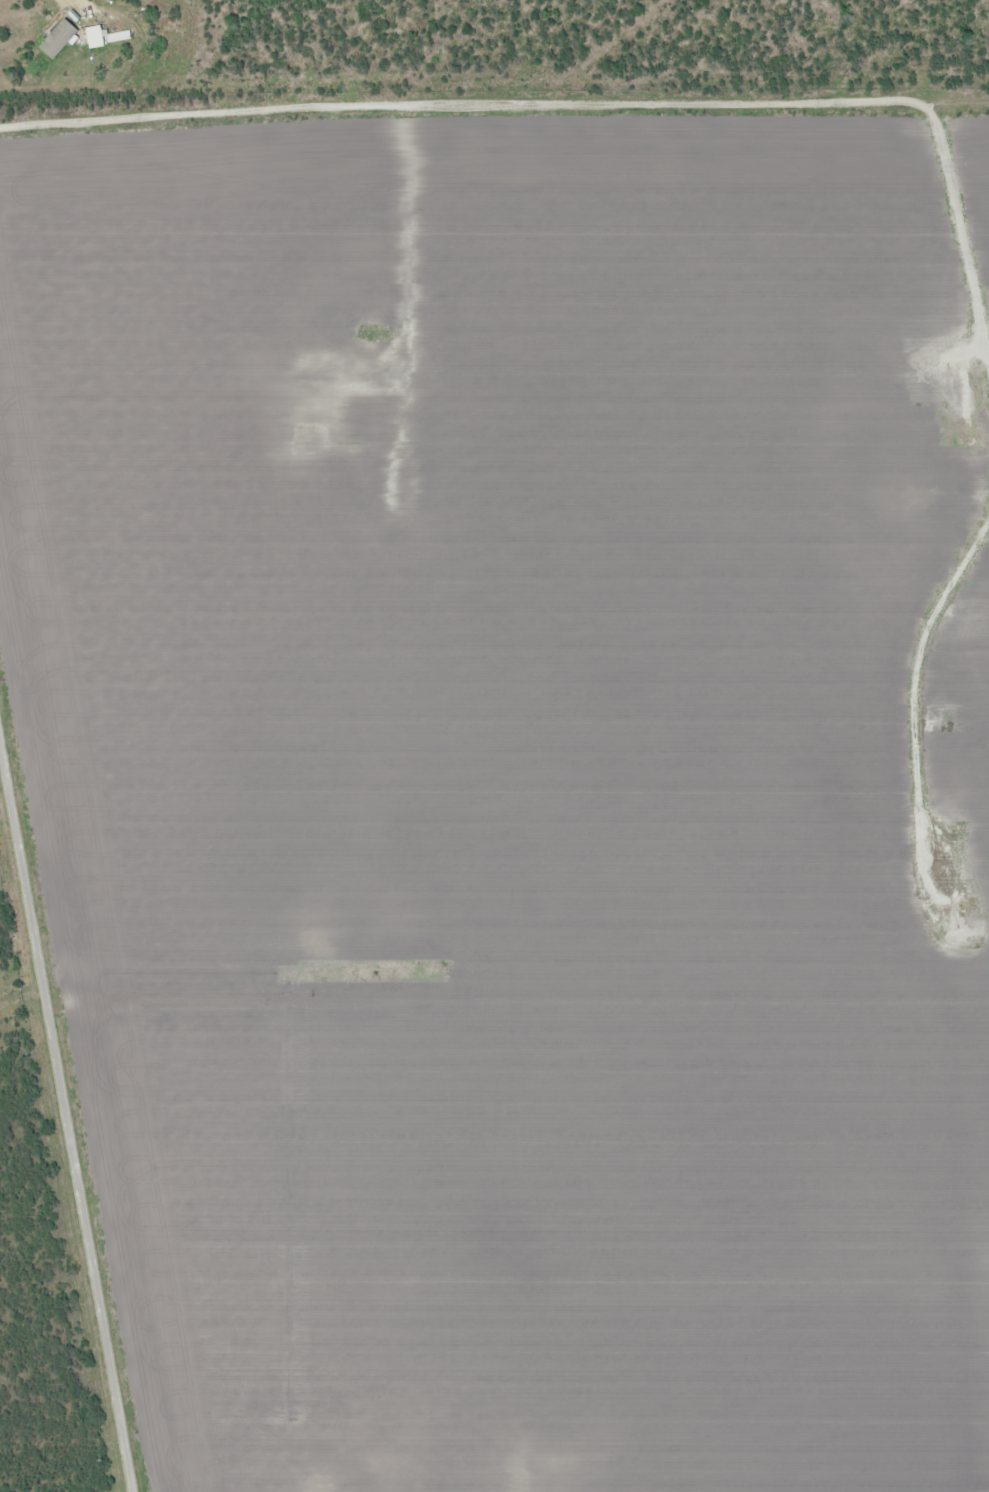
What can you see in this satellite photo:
building: (98, 36)
building: (60, 38)
road: (494, 116)
road: (66, 1099)

